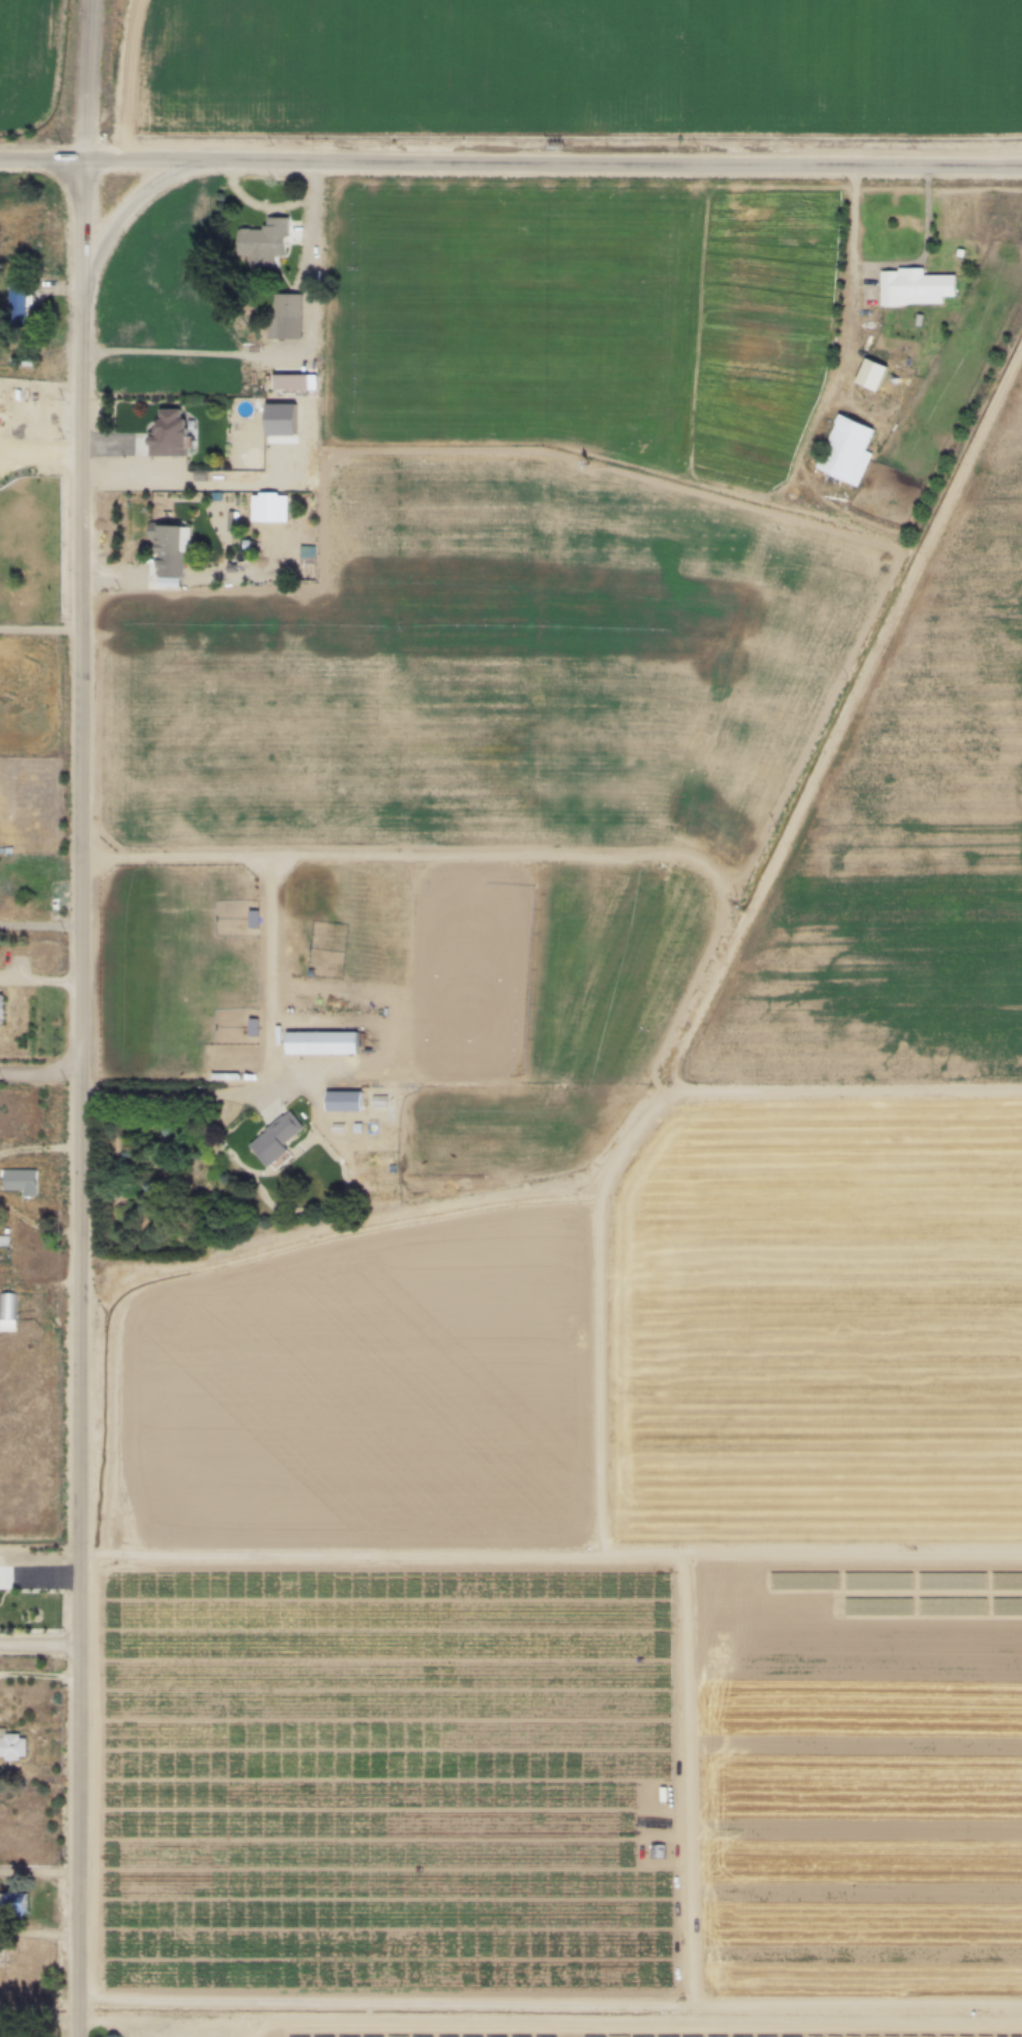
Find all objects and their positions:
road: (510, 164)
road: (126, 209)
building: (261, 242)
road: (885, 265)
building: (912, 286)
building: (15, 306)
building: (284, 315)
road: (286, 352)
building: (869, 373)
building: (166, 431)
building: (844, 449)
road: (40, 457)
building: (165, 548)
building: (305, 562)
road: (40, 634)
road: (272, 880)
road: (40, 929)
building: (6, 1009)
road: (80, 1018)
building: (319, 1042)
road: (40, 1076)
road: (177, 1101)
building: (341, 1101)
building: (273, 1138)
building: (18, 1180)
building: (7, 1311)
road: (39, 1554)
road: (39, 1644)
road: (39, 1675)
building: (637, 1697)
building: (11, 1747)
road: (40, 1870)
building: (12, 1903)
building: (834, 1919)
road: (40, 1932)
building: (833, 1945)
building: (873, 1945)
road: (551, 2008)

